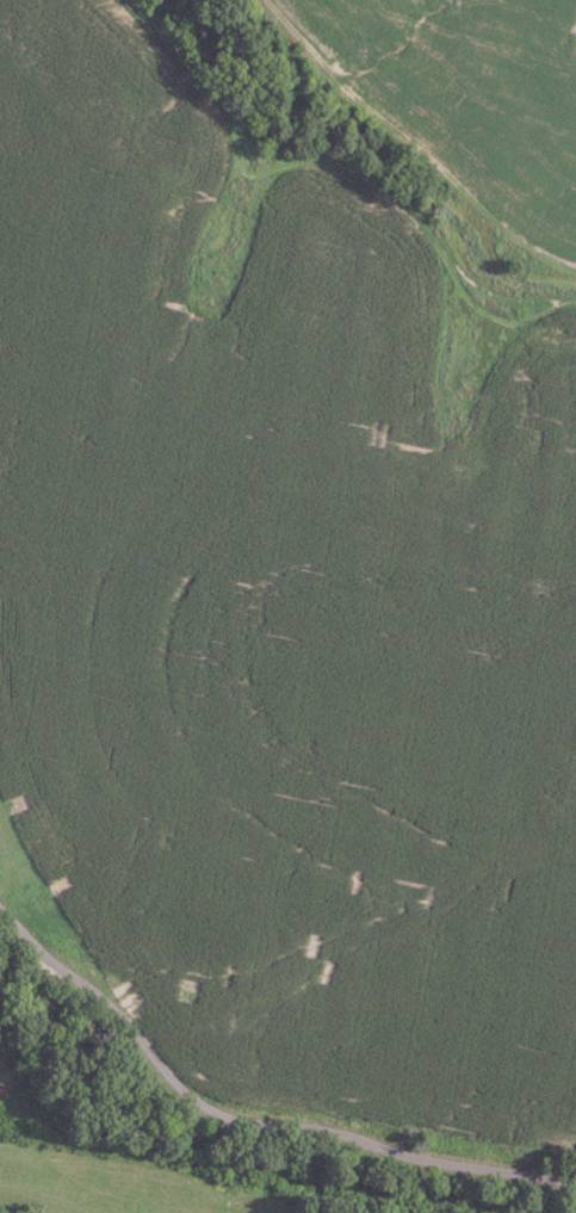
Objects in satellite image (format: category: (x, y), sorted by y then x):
road: (249, 1113)

